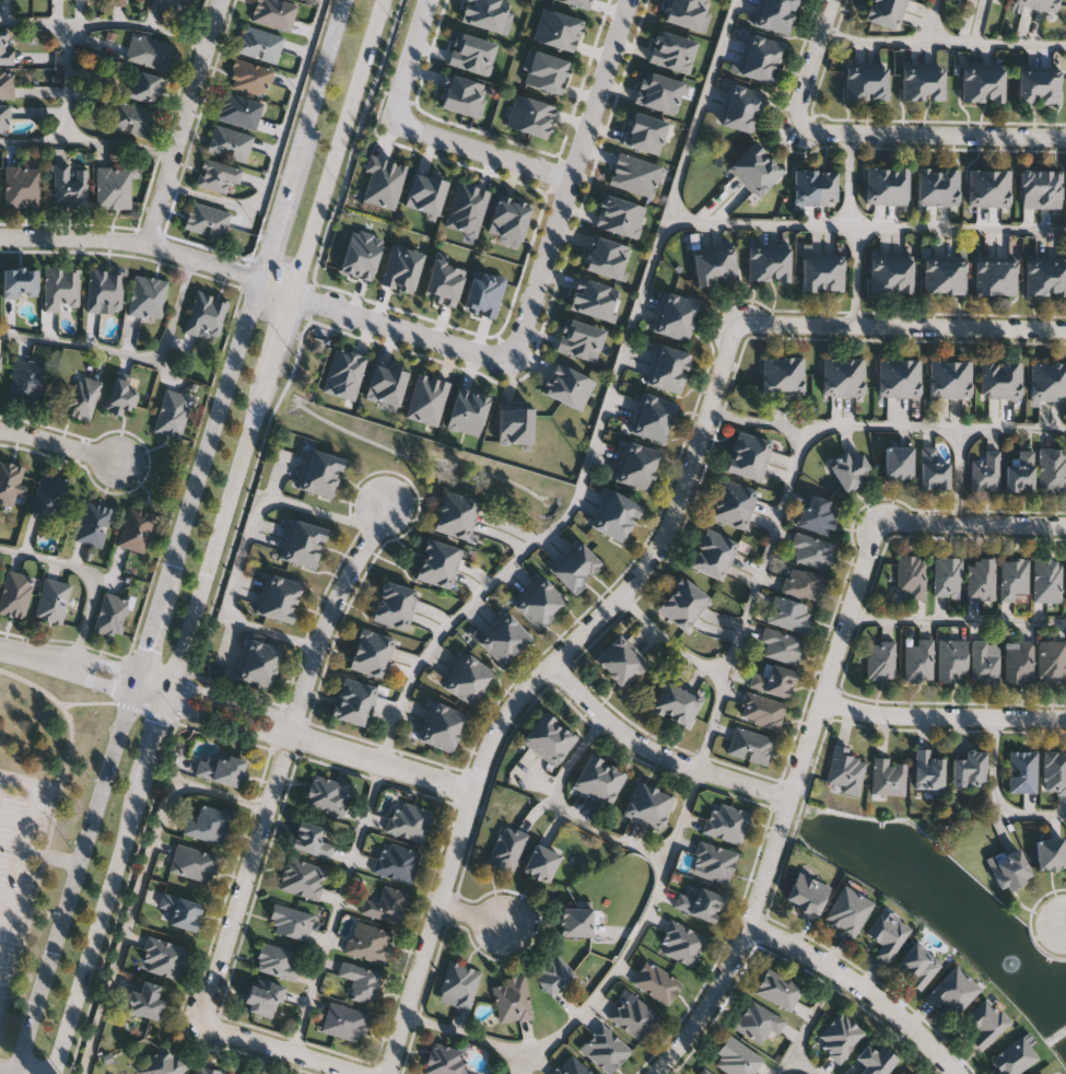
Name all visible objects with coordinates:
building: (120, 0)
building: (304, 0)
building: (893, 2)
building: (1026, 2)
building: (166, 4)
building: (780, 4)
building: (1046, 4)
building: (273, 13)
building: (882, 13)
building: (773, 19)
road: (929, 21)
road: (105, 22)
road: (871, 40)
road: (994, 42)
building: (259, 45)
building: (5, 48)
building: (764, 48)
building: (148, 52)
road: (812, 60)
road: (413, 61)
building: (759, 68)
building: (249, 78)
road: (68, 81)
building: (855, 81)
building: (876, 81)
building: (912, 83)
building: (933, 83)
building: (972, 83)
building: (993, 83)
building: (7, 85)
building: (1028, 85)
building: (1049, 85)
building: (144, 87)
road: (318, 91)
building: (745, 97)
road: (699, 109)
building: (239, 112)
building: (738, 117)
building: (4, 120)
building: (131, 120)
road: (185, 124)
road: (932, 135)
road: (87, 142)
building: (229, 144)
road: (278, 149)
road: (483, 151)
building: (748, 162)
building: (218, 177)
road: (572, 177)
building: (763, 177)
road: (850, 178)
road: (151, 179)
building: (69, 186)
building: (875, 186)
building: (895, 186)
building: (926, 186)
building: (947, 186)
building: (804, 187)
building: (824, 187)
building: (22, 188)
building: (113, 188)
building: (977, 188)
building: (998, 188)
building: (1030, 188)
building: (1050, 188)
building: (207, 221)
road: (757, 222)
road: (958, 225)
road: (276, 231)
road: (132, 245)
road: (215, 253)
building: (725, 264)
building: (758, 264)
building: (778, 264)
building: (704, 266)
building: (811, 272)
building: (832, 272)
road: (856, 273)
building: (880, 273)
building: (901, 273)
road: (246, 275)
building: (934, 277)
building: (954, 277)
building: (984, 277)
building: (1005, 277)
building: (1035, 278)
building: (1056, 278)
building: (20, 284)
road: (276, 284)
building: (61, 289)
building: (105, 292)
building: (147, 299)
building: (677, 305)
building: (204, 314)
road: (901, 323)
road: (399, 325)
building: (671, 326)
road: (128, 352)
building: (672, 359)
building: (0, 363)
building: (772, 375)
building: (793, 375)
building: (832, 377)
building: (853, 377)
building: (889, 377)
building: (909, 377)
building: (938, 378)
building: (959, 378)
building: (667, 380)
building: (989, 380)
building: (1010, 380)
building: (1040, 382)
building: (1058, 382)
building: (26, 383)
building: (122, 397)
building: (83, 399)
building: (656, 408)
building: (172, 415)
road: (200, 415)
road: (886, 425)
building: (651, 428)
road: (214, 433)
building: (751, 445)
road: (59, 450)
building: (641, 455)
building: (324, 463)
building: (898, 463)
road: (148, 465)
building: (746, 465)
building: (933, 468)
building: (1051, 469)
building: (848, 470)
building: (984, 472)
building: (1020, 472)
building: (635, 476)
road: (959, 476)
building: (10, 482)
building: (318, 482)
building: (736, 493)
building: (48, 497)
road: (248, 500)
building: (458, 504)
building: (622, 507)
building: (729, 514)
building: (818, 514)
road: (564, 516)
road: (974, 524)
building: (93, 525)
building: (453, 525)
building: (612, 525)
building: (134, 530)
building: (307, 534)
road: (214, 536)
road: (245, 544)
building: (717, 545)
road: (769, 550)
building: (811, 550)
building: (442, 553)
building: (301, 554)
building: (583, 559)
building: (708, 563)
road: (87, 574)
building: (435, 574)
building: (569, 574)
building: (911, 576)
building: (947, 576)
building: (980, 580)
building: (1014, 580)
building: (1046, 580)
building: (801, 584)
building: (283, 588)
building: (13, 595)
building: (398, 595)
building: (689, 595)
building: (548, 597)
building: (50, 600)
building: (277, 609)
road: (850, 609)
building: (532, 611)
building: (677, 612)
building: (788, 615)
building: (110, 616)
building: (393, 616)
road: (957, 619)
road: (156, 630)
building: (512, 633)
road: (670, 640)
building: (374, 643)
building: (780, 645)
building: (496, 647)
building: (262, 654)
building: (612, 655)
road: (34, 656)
building: (880, 661)
building: (918, 661)
building: (951, 662)
building: (1052, 662)
building: (984, 663)
building: (1019, 663)
road: (106, 664)
building: (367, 664)
building: (626, 670)
building: (473, 672)
building: (256, 675)
road: (532, 680)
building: (773, 681)
road: (140, 686)
road: (97, 687)
building: (464, 689)
building: (356, 692)
road: (220, 698)
building: (666, 700)
road: (85, 703)
building: (684, 709)
building: (761, 711)
building: (351, 712)
road: (941, 714)
building: (445, 717)
road: (211, 720)
road: (168, 722)
road: (712, 722)
building: (539, 734)
building: (437, 737)
road: (68, 745)
building: (558, 746)
building: (749, 746)
road: (658, 751)
road: (278, 760)
road: (379, 761)
building: (221, 768)
building: (928, 770)
building: (969, 770)
building: (845, 771)
building: (1022, 772)
building: (1054, 772)
building: (589, 775)
building: (888, 778)
building: (607, 785)
road: (994, 793)
building: (326, 796)
building: (637, 803)
building: (657, 809)
road: (569, 810)
park: (38, 814)
building: (408, 821)
building: (726, 822)
building: (207, 825)
building: (311, 840)
road: (142, 847)
building: (507, 849)
road: (24, 851)
building: (1050, 854)
parking lot: (19, 855)
road: (50, 856)
building: (396, 862)
building: (194, 863)
building: (540, 863)
building: (713, 863)
building: (1009, 871)
building: (301, 878)
road: (71, 885)
road: (140, 886)
building: (806, 896)
road: (755, 897)
building: (385, 904)
building: (700, 904)
road: (337, 907)
road: (469, 910)
building: (180, 911)
road: (1062, 911)
building: (846, 912)
building: (290, 922)
building: (576, 922)
road: (635, 934)
building: (887, 935)
building: (368, 943)
building: (681, 943)
road: (22, 947)
building: (163, 958)
building: (278, 961)
building: (918, 965)
building: (552, 973)
building: (360, 982)
building: (656, 983)
building: (457, 984)
road: (859, 988)
building: (776, 989)
building: (953, 991)
building: (262, 997)
building: (511, 1000)
building: (144, 1001)
building: (632, 1016)
building: (757, 1022)
building: (344, 1023)
building: (986, 1024)
road: (803, 1026)
road: (472, 1036)
building: (839, 1037)
road: (284, 1049)
building: (605, 1049)
building: (736, 1058)
building: (1014, 1058)
building: (445, 1060)
building: (874, 1060)
building: (164, 1062)
road: (782, 1062)
building: (571, 1066)
road: (8, 1069)
building: (209, 1071)
road: (22, 1072)
building: (704, 1072)
building: (243, 1073)
building: (899, 1073)
building: (901, 1073)

